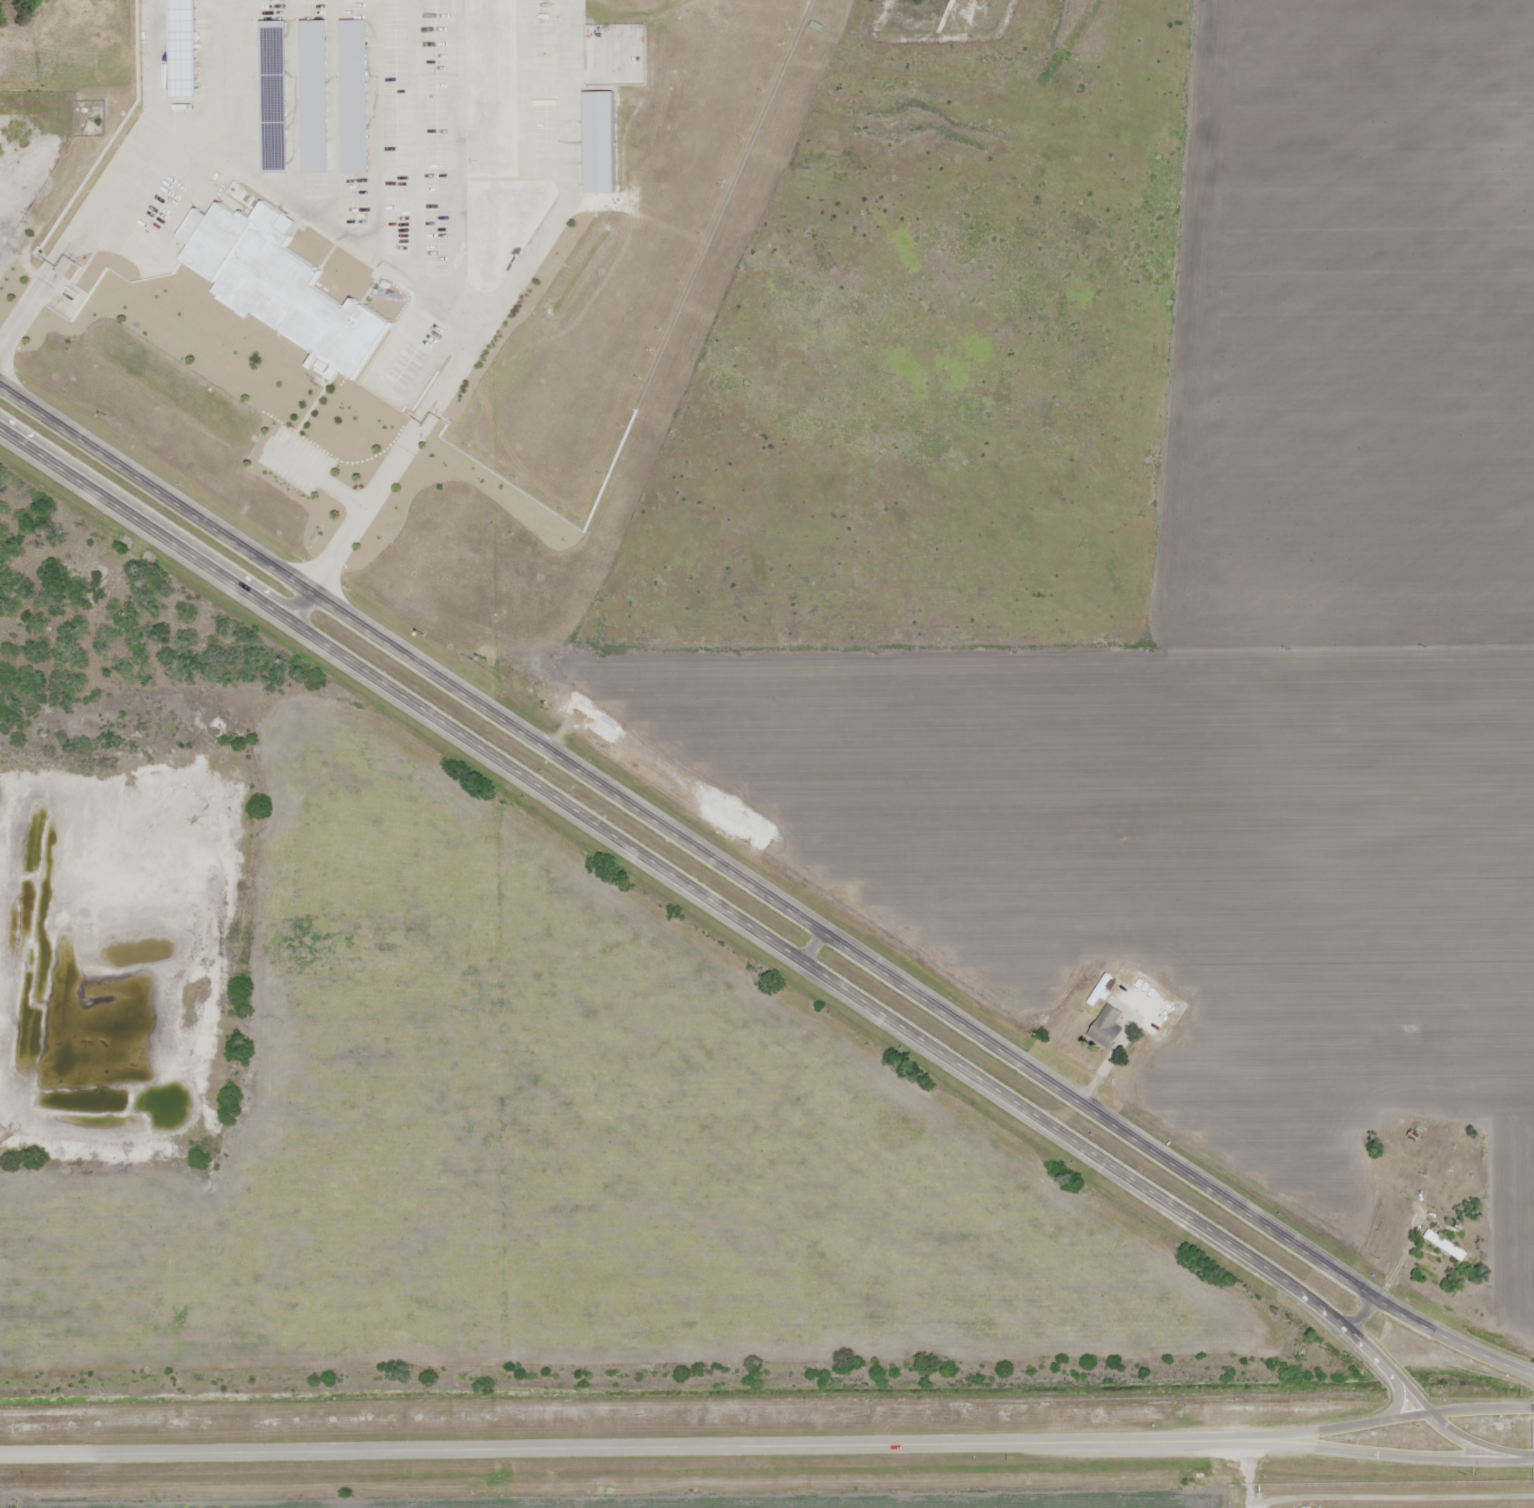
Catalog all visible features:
building: (186, 48)
road: (152, 56)
road: (229, 80)
building: (317, 96)
building: (357, 96)
building: (278, 98)
road: (295, 100)
road: (526, 107)
road: (335, 113)
road: (375, 125)
road: (415, 137)
building: (601, 142)
road: (461, 152)
road: (572, 171)
road: (336, 225)
building: (287, 289)
road: (401, 332)
road: (424, 368)
road: (300, 605)
road: (761, 889)
road: (769, 938)
road: (1110, 1059)
road: (1360, 1421)
road: (593, 1451)
road: (1360, 1451)

